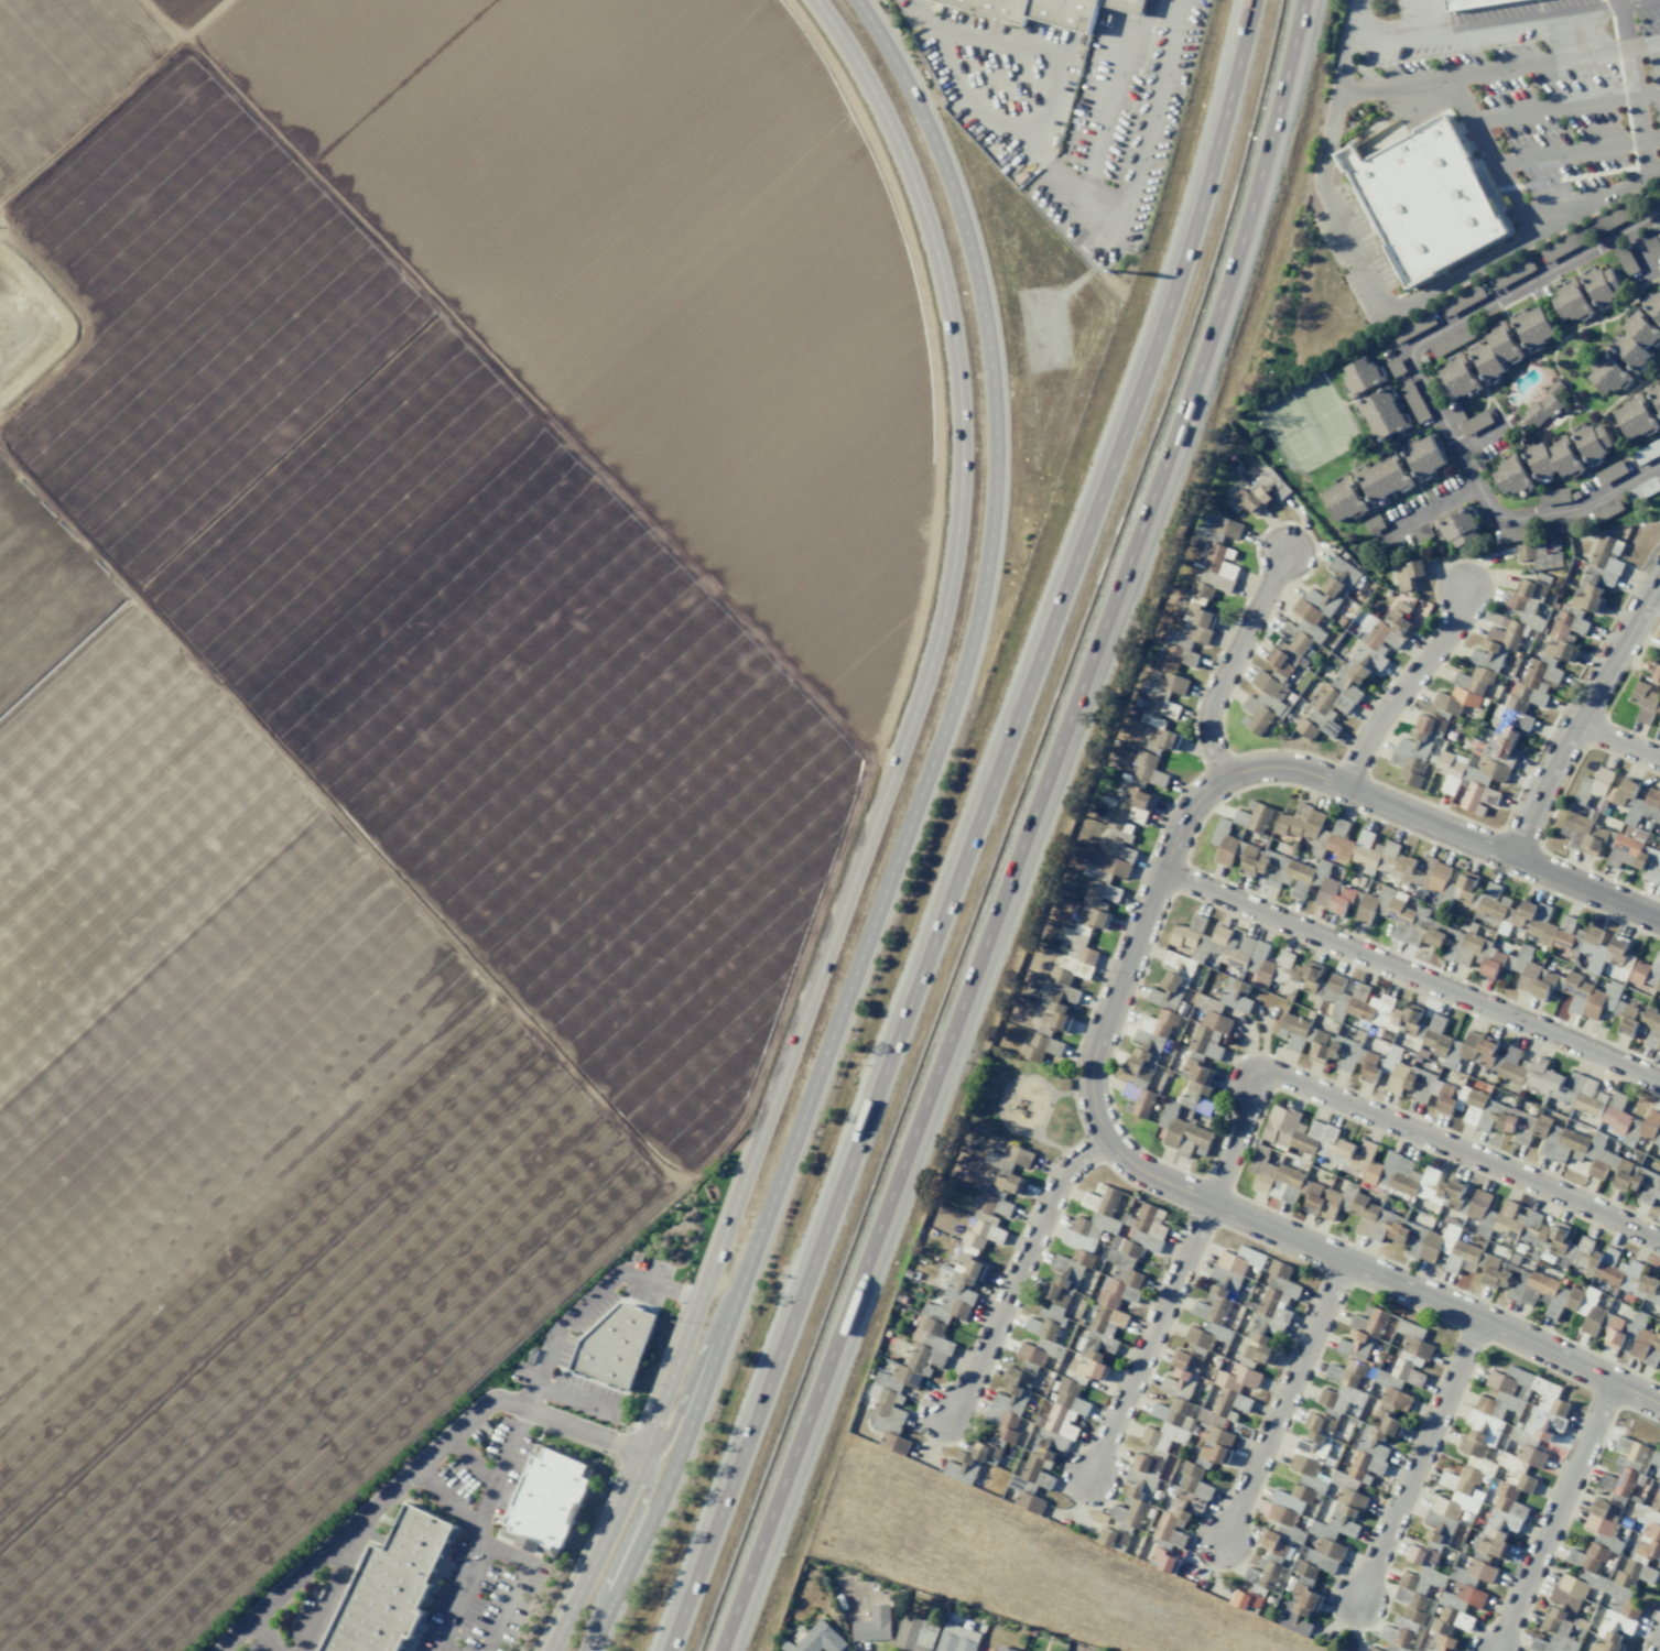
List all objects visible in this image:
road: (1620, 1)
road: (1631, 1)
building: (1468, 3)
building: (1044, 10)
road: (1423, 15)
road: (1523, 17)
road: (1388, 36)
road: (1500, 68)
parking lot: (1547, 84)
road: (1634, 88)
road: (1341, 91)
road: (112, 99)
road: (1564, 106)
road: (1576, 151)
road: (1488, 156)
road: (1634, 180)
building: (1423, 200)
road: (1563, 203)
road: (1570, 214)
building: (1612, 219)
building: (1650, 243)
building: (1562, 246)
road: (1355, 248)
parking lot: (1355, 252)
road: (1639, 253)
building: (1625, 259)
building: (1512, 272)
road: (1460, 273)
building: (1602, 285)
building: (1462, 300)
building: (1571, 302)
building: (1653, 305)
wastewater plant: (24, 317)
building: (1412, 326)
building: (1532, 327)
building: (1635, 339)
building: (1451, 341)
building: (1494, 352)
building: (1395, 367)
building: (1607, 372)
building: (1361, 374)
building: (1456, 378)
road: (1422, 384)
building: (1656, 395)
building: (1412, 400)
building: (1541, 406)
park: (1323, 412)
building: (1381, 414)
building: (1456, 415)
building: (1637, 416)
building: (1475, 422)
park: (1292, 428)
road: (1479, 437)
building: (1592, 442)
building: (1647, 450)
building: (1421, 456)
building: (1552, 458)
building: (1610, 473)
building: (1512, 476)
building: (1381, 477)
building: (1643, 489)
building: (1261, 492)
building: (1553, 495)
building: (1343, 499)
building: (1606, 510)
road: (1424, 513)
building: (1374, 524)
building: (1559, 526)
building: (1457, 528)
building: (1218, 530)
building: (1422, 533)
building: (1516, 533)
building: (1525, 552)
building: (1605, 561)
building: (1549, 562)
building: (1409, 574)
road: (1657, 589)
building: (1526, 591)
building: (1587, 599)
building: (1311, 617)
building: (1566, 626)
building: (1189, 632)
building: (1659, 652)
road: (1235, 665)
building: (1480, 669)
building: (1656, 673)
building: (1357, 678)
road: (1407, 688)
building: (1531, 693)
building: (1643, 700)
building: (1262, 704)
crop: (405, 707)
road: (1580, 716)
building: (1659, 728)
building: (1163, 740)
road: (1618, 741)
building: (1414, 749)
building: (1148, 769)
building: (1469, 780)
building: (1601, 781)
building: (1623, 792)
building: (1130, 812)
building: (1252, 816)
road: (981, 830)
road: (1042, 833)
road: (870, 834)
road: (905, 834)
building: (1582, 834)
building: (1332, 838)
building: (1624, 850)
building: (1116, 857)
building: (1261, 861)
building: (1649, 865)
building: (1423, 871)
building: (1466, 886)
building: (1328, 891)
building: (1343, 901)
building: (1495, 905)
building: (1390, 913)
building: (1523, 914)
building: (1223, 938)
building: (1580, 942)
building: (1454, 945)
building: (1255, 959)
building: (1284, 959)
building: (1180, 963)
building: (1496, 964)
building: (1647, 974)
building: (1306, 975)
road: (1412, 976)
building: (1528, 977)
building: (1547, 984)
building: (1237, 996)
building: (1585, 997)
building: (1384, 1011)
building: (1626, 1018)
road: (1108, 1021)
building: (1651, 1029)
building: (1293, 1031)
building: (1209, 1033)
building: (1436, 1035)
building: (1150, 1041)
building: (1040, 1047)
building: (1478, 1049)
building: (1400, 1075)
building: (1550, 1082)
building: (1195, 1083)
building: (1139, 1099)
building: (1466, 1105)
park: (1022, 1107)
building: (1616, 1114)
building: (1506, 1121)
building: (1649, 1125)
road: (1400, 1126)
building: (1523, 1130)
building: (1182, 1132)
building: (1313, 1138)
building: (1657, 1138)
building: (1574, 1147)
building: (1017, 1155)
building: (1276, 1177)
building: (1627, 1177)
building: (1415, 1181)
building: (1010, 1184)
building: (1649, 1193)
building: (1102, 1202)
building: (1322, 1202)
building: (1366, 1217)
building: (1521, 1226)
building: (1432, 1245)
building: (1125, 1270)
road: (1020, 1274)
building: (1625, 1274)
building: (1061, 1288)
building: (1544, 1292)
building: (1220, 1296)
building: (1274, 1301)
building: (944, 1307)
building: (1409, 1329)
building: (1363, 1332)
building: (1614, 1334)
road: (1149, 1339)
building: (615, 1345)
building: (1259, 1349)
building: (1411, 1361)
building: (1184, 1364)
building: (1088, 1365)
building: (1342, 1380)
building: (1169, 1386)
building: (1234, 1388)
road: (577, 1400)
road: (1283, 1400)
building: (1009, 1402)
building: (1065, 1409)
road: (680, 1410)
building: (1377, 1435)
building: (893, 1443)
building: (1214, 1446)
road: (435, 1453)
building: (1500, 1455)
road: (1418, 1459)
building: (1654, 1459)
building: (970, 1462)
road: (469, 1463)
building: (1623, 1467)
building: (1303, 1471)
building: (1144, 1475)
building: (1032, 1479)
building: (1194, 1480)
building: (1656, 1497)
building: (546, 1501)
road: (641, 1506)
road: (1553, 1517)
building: (1171, 1527)
building: (1331, 1535)
building: (1271, 1543)
road: (318, 1558)
building: (1639, 1558)
building: (1577, 1573)
building: (1261, 1576)
road: (513, 1585)
building: (390, 1586)
road: (327, 1594)
building: (1245, 1599)
parking lot: (478, 1603)
building: (1433, 1603)
building: (1300, 1611)
parking lot: (299, 1615)
building: (874, 1625)
building: (915, 1633)
road: (267, 1634)
building: (821, 1638)
building: (956, 1639)
building: (1003, 1649)

